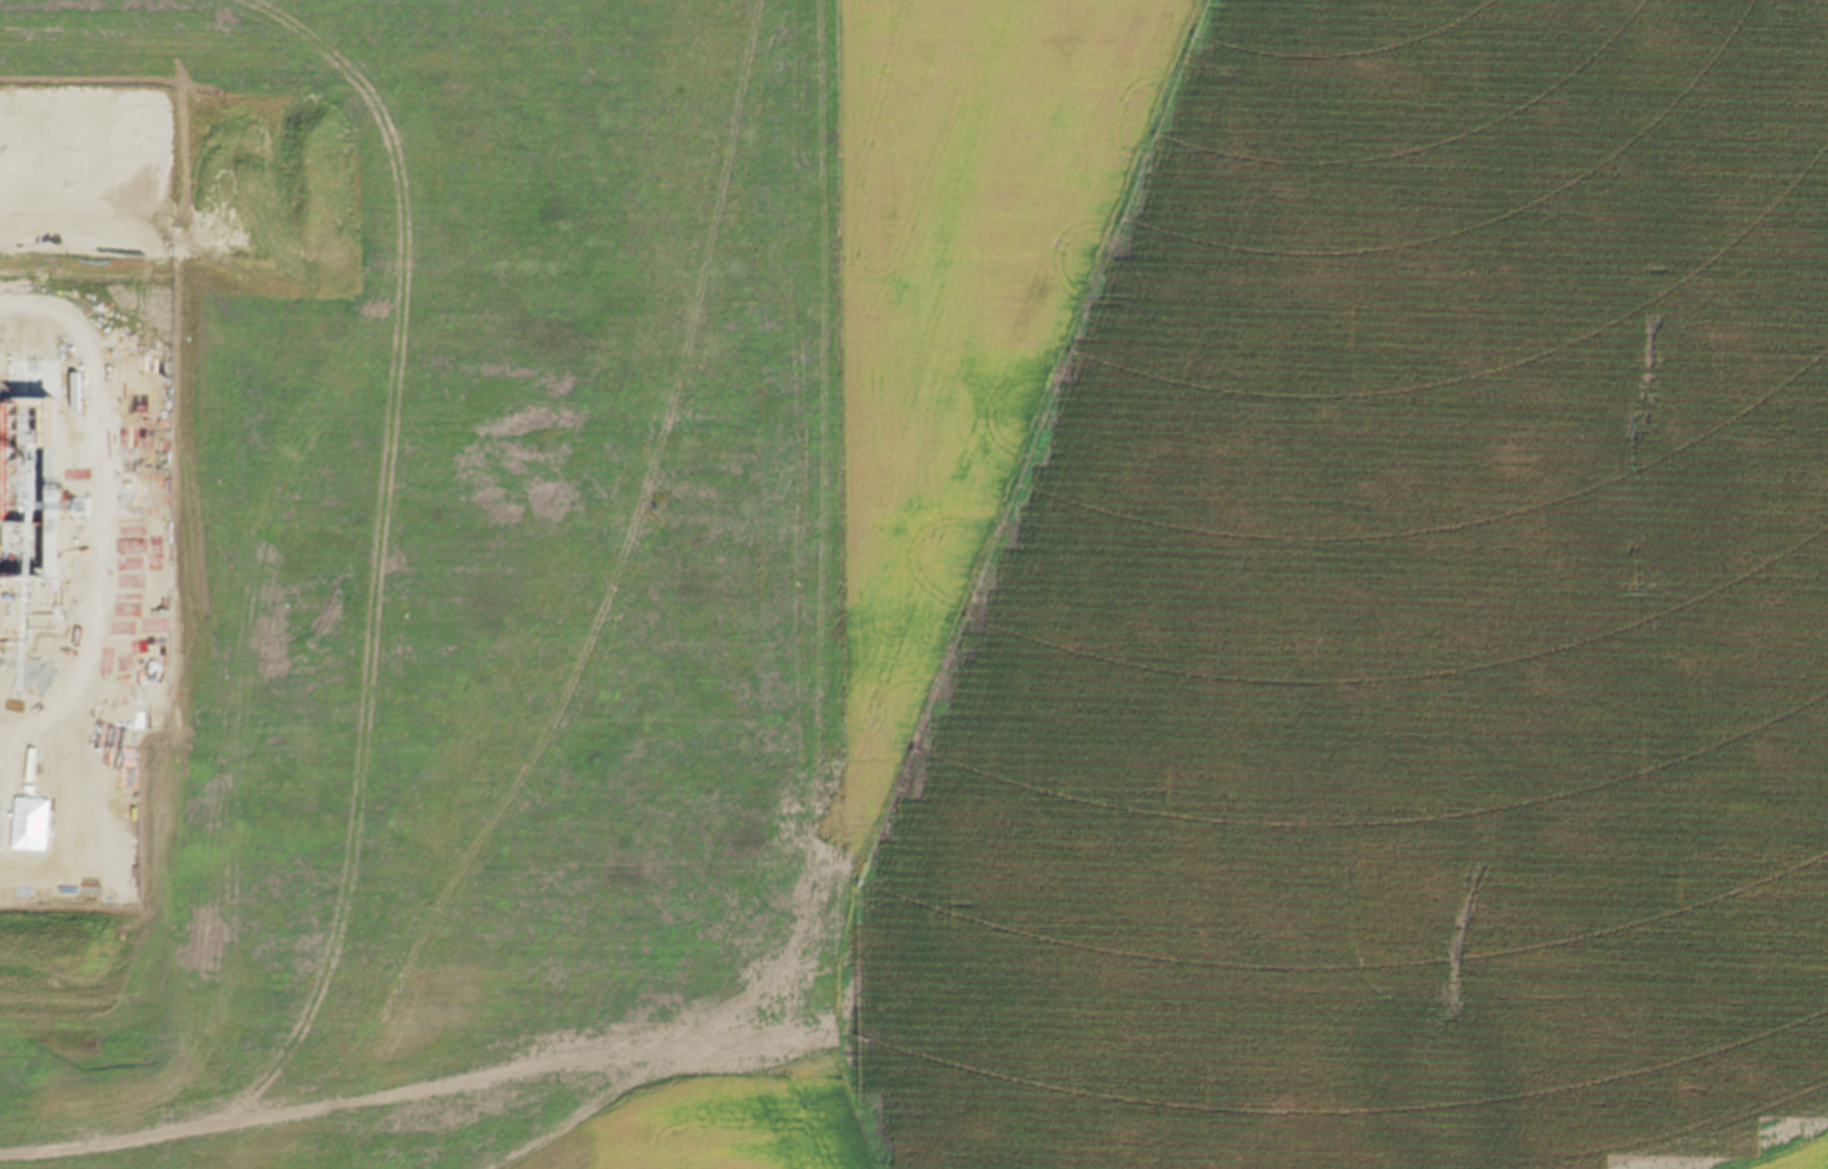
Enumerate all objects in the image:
crop: (913, 584)

